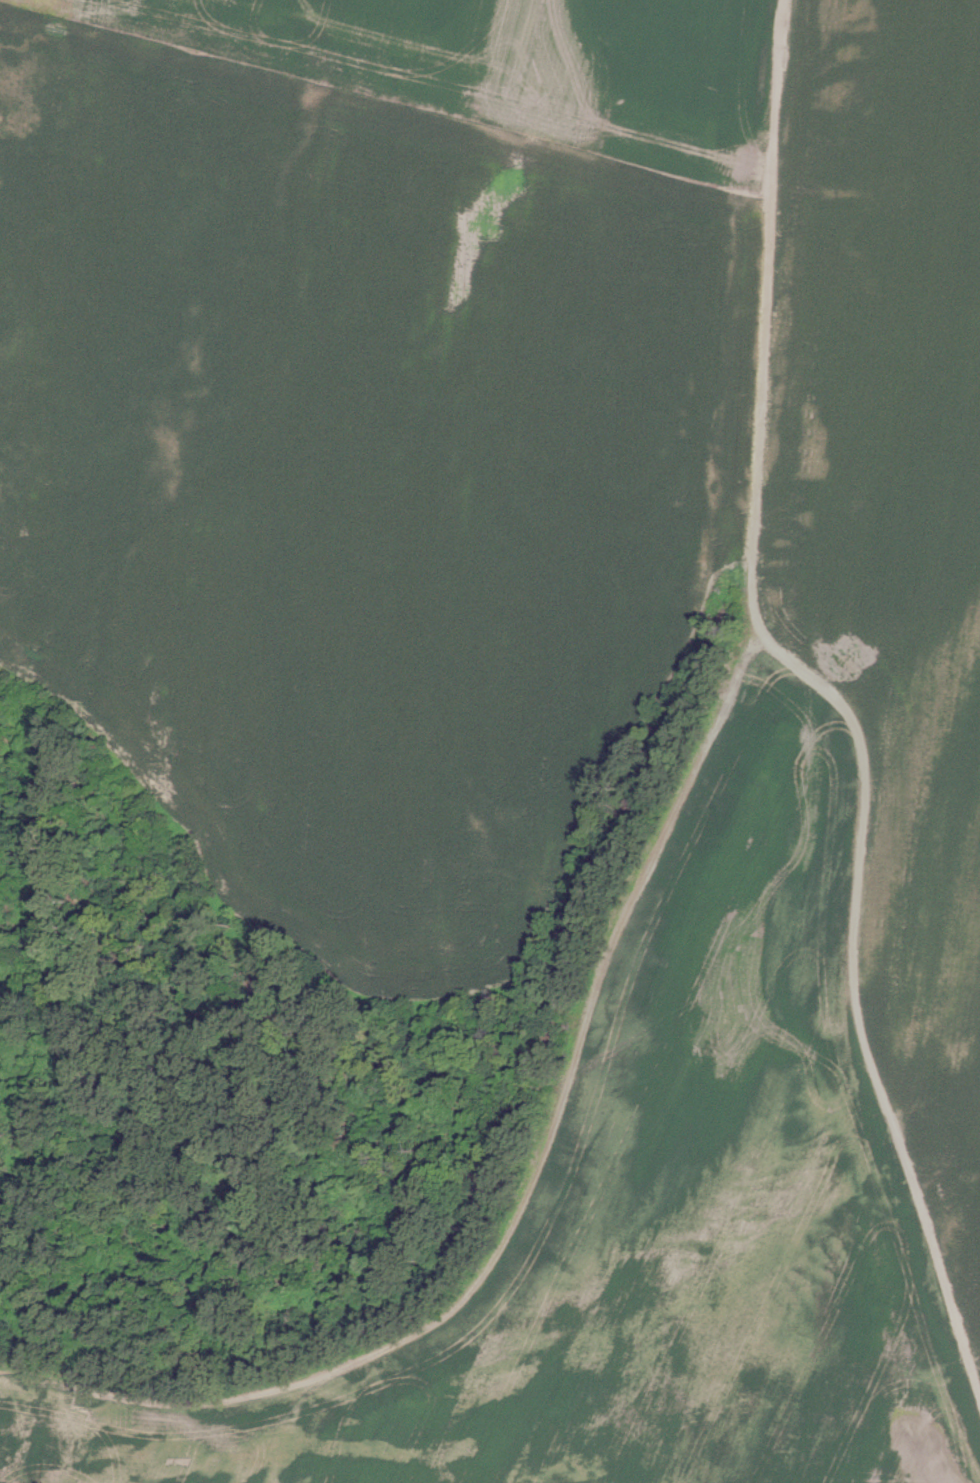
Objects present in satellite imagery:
crop: (543, 665)
road: (831, 692)

